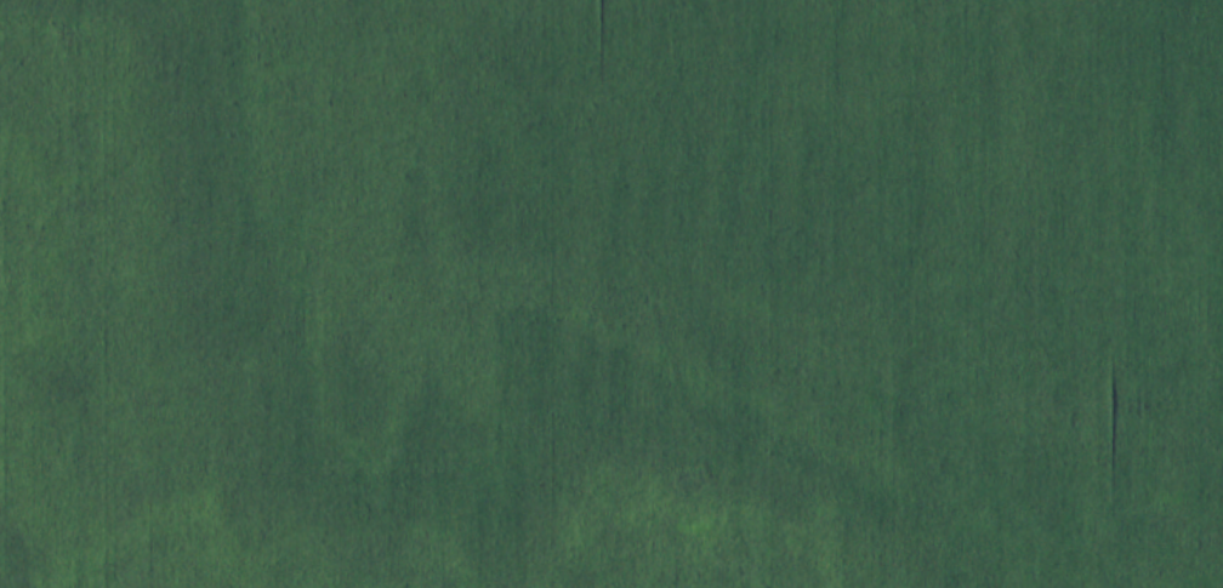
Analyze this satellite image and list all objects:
crop: (611, 293)

